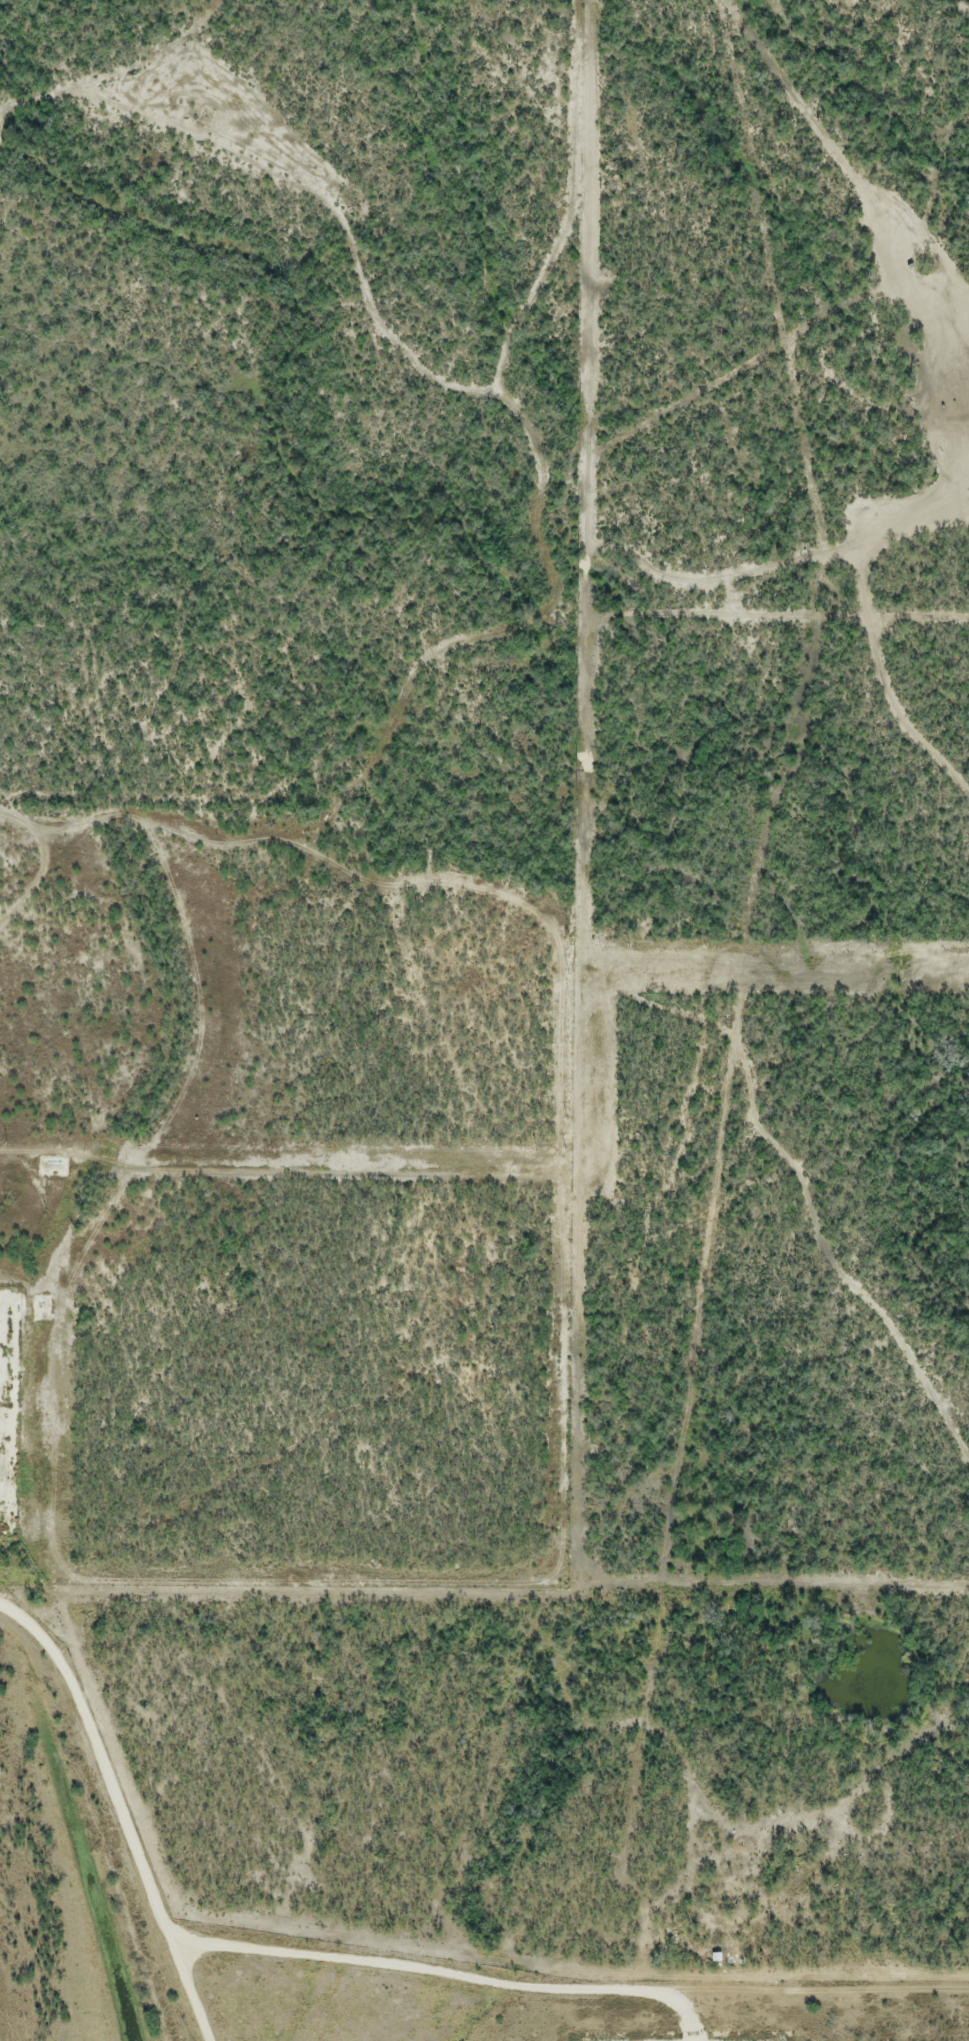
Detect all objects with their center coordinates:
road: (102, 1761)
road: (393, 1967)

